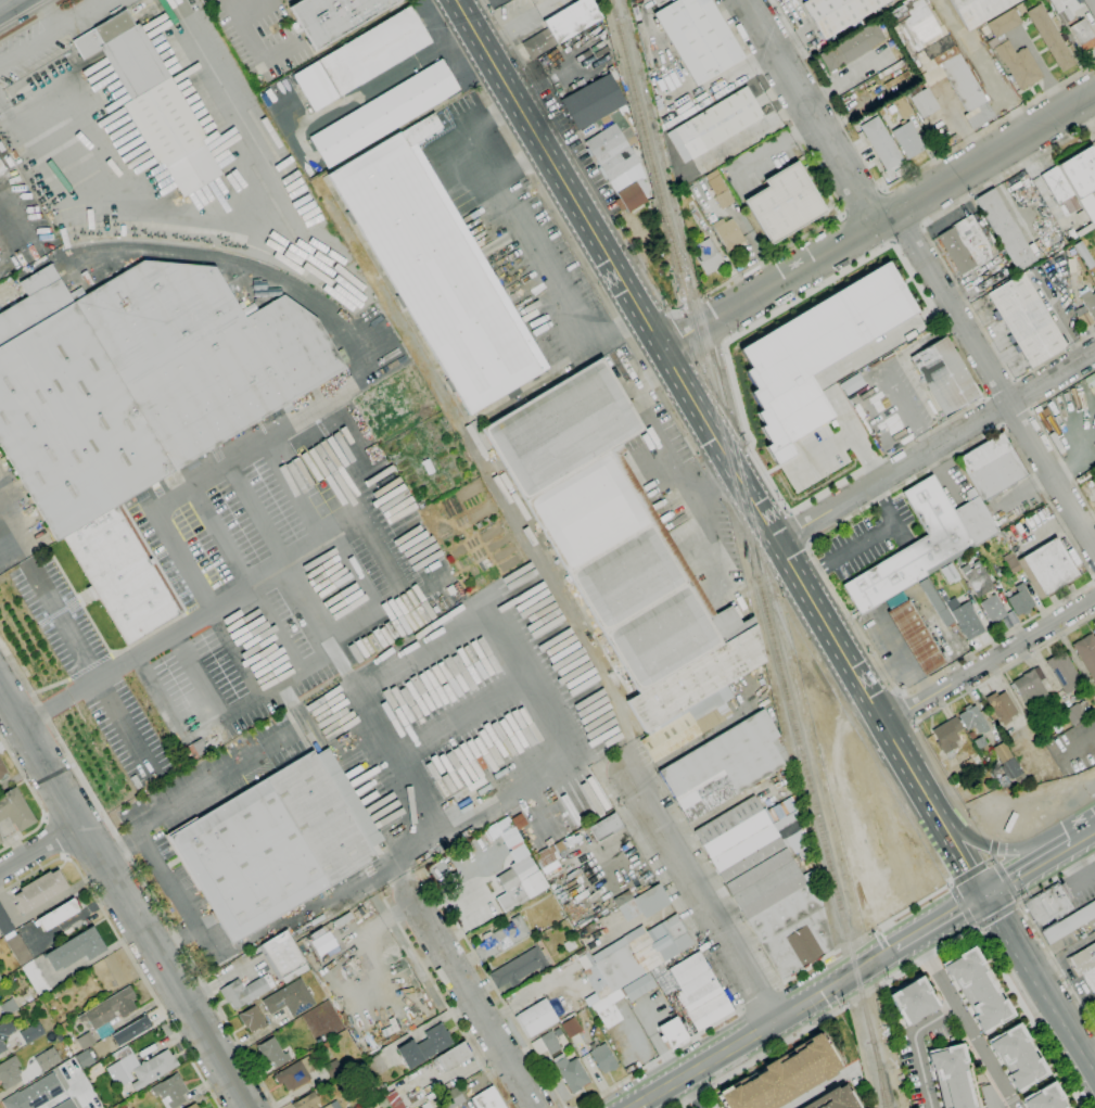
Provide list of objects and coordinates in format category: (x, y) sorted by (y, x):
building: (201, 0)
building: (204, 1)
road: (10, 5)
building: (979, 10)
building: (1061, 12)
road: (48, 13)
building: (839, 13)
building: (334, 17)
road: (31, 18)
building: (562, 26)
road: (246, 27)
road: (52, 30)
building: (1082, 35)
building: (699, 38)
building: (1051, 38)
road: (510, 40)
building: (852, 47)
building: (1013, 48)
building: (361, 59)
building: (937, 62)
building: (153, 101)
building: (593, 102)
building: (902, 106)
road: (1, 107)
road: (811, 112)
building: (384, 113)
building: (620, 123)
building: (718, 123)
road: (984, 131)
building: (907, 140)
building: (881, 143)
building: (13, 154)
road: (515, 166)
building: (619, 166)
building: (1, 168)
road: (817, 176)
building: (1081, 179)
road: (9, 186)
building: (1059, 189)
building: (720, 192)
road: (862, 202)
building: (784, 203)
road: (215, 214)
building: (1081, 216)
road: (879, 222)
road: (562, 227)
building: (1005, 229)
building: (728, 232)
road: (906, 234)
road: (519, 241)
building: (965, 244)
building: (1084, 254)
building: (708, 256)
road: (941, 256)
building: (437, 268)
road: (914, 282)
road: (811, 292)
building: (1088, 300)
road: (690, 305)
road: (673, 314)
building: (1027, 320)
building: (1084, 320)
road: (695, 330)
railway: (695, 331)
road: (880, 341)
road: (724, 343)
building: (816, 354)
road: (670, 361)
building: (945, 377)
road: (994, 381)
road: (1014, 381)
road: (999, 389)
road: (1020, 394)
road: (830, 395)
road: (986, 397)
building: (138, 403)
road: (1030, 408)
road: (994, 410)
road: (1015, 415)
road: (653, 423)
road: (1002, 424)
road: (742, 430)
road: (994, 431)
road: (1043, 431)
road: (858, 443)
road: (264, 444)
road: (937, 448)
road: (819, 451)
road: (712, 457)
road: (886, 457)
railway: (736, 462)
road: (777, 467)
building: (991, 467)
road: (336, 476)
road: (714, 483)
road: (878, 496)
building: (1043, 514)
building: (976, 519)
road: (801, 526)
road: (870, 536)
road: (20, 539)
road: (713, 543)
building: (620, 545)
building: (913, 549)
building: (960, 561)
building: (1010, 563)
building: (1047, 568)
road: (815, 570)
building: (948, 572)
road: (246, 580)
road: (1094, 580)
parking lot: (247, 589)
building: (983, 590)
building: (893, 599)
building: (1020, 600)
building: (935, 602)
road: (206, 603)
building: (1013, 616)
building: (965, 617)
road: (192, 622)
building: (1094, 622)
building: (1094, 624)
building: (916, 637)
building: (1086, 653)
road: (990, 660)
road: (311, 665)
road: (1004, 668)
road: (92, 671)
building: (1064, 672)
road: (199, 676)
building: (1030, 688)
road: (897, 692)
building: (1094, 697)
building: (1001, 706)
road: (903, 708)
building: (1078, 712)
building: (973, 719)
road: (912, 723)
building: (682, 725)
building: (946, 735)
building: (980, 742)
building: (1006, 762)
building: (725, 765)
building: (1, 770)
road: (912, 773)
road: (947, 785)
road: (37, 800)
road: (171, 805)
building: (15, 810)
road: (1047, 824)
building: (604, 827)
road: (1083, 836)
road: (55, 837)
road: (995, 837)
building: (0, 840)
building: (276, 843)
road: (992, 845)
road: (991, 846)
road: (1059, 851)
road: (41, 852)
building: (546, 857)
railway: (828, 857)
road: (992, 857)
road: (963, 858)
road: (988, 859)
road: (967, 874)
road: (139, 875)
building: (522, 877)
road: (1014, 877)
road: (1057, 880)
road: (1005, 881)
building: (766, 886)
building: (39, 891)
road: (696, 892)
traffic signals: (982, 896)
road: (124, 897)
building: (622, 899)
road: (175, 900)
road: (1018, 902)
building: (645, 903)
road: (914, 904)
road: (963, 905)
building: (1048, 906)
building: (361, 910)
road: (995, 914)
building: (56, 915)
road: (939, 921)
building: (4, 922)
building: (1069, 922)
road: (976, 928)
road: (858, 938)
building: (500, 939)
building: (322, 943)
building: (569, 944)
road: (124, 948)
building: (18, 950)
building: (76, 950)
building: (640, 952)
road: (928, 956)
building: (283, 957)
building: (1084, 965)
road: (1057, 966)
building: (519, 967)
road: (806, 968)
building: (36, 978)
building: (0, 979)
building: (664, 980)
building: (596, 984)
building: (638, 986)
road: (493, 988)
building: (977, 990)
road: (1033, 990)
building: (243, 992)
building: (699, 992)
road: (863, 995)
road: (470, 996)
building: (289, 998)
road: (759, 998)
road: (443, 999)
building: (913, 999)
road: (1028, 1004)
building: (8, 1006)
building: (608, 1008)
building: (324, 1009)
building: (109, 1011)
building: (535, 1018)
road: (1029, 1018)
building: (252, 1019)
road: (967, 1021)
building: (571, 1028)
road: (764, 1029)
building: (131, 1031)
building: (5, 1032)
building: (30, 1032)
building: (672, 1032)
road: (251, 1036)
building: (86, 1041)
building: (546, 1044)
road: (914, 1044)
building: (425, 1046)
building: (272, 1052)
building: (454, 1056)
building: (1017, 1056)
road: (760, 1057)
building: (603, 1058)
road: (658, 1058)
building: (47, 1059)
building: (85, 1060)
building: (377, 1065)
building: (139, 1068)
building: (332, 1069)
building: (10, 1072)
building: (295, 1073)
building: (571, 1073)
building: (785, 1075)
building: (952, 1078)
road: (1094, 1079)
railway: (880, 1081)
railway: (883, 1081)
road: (823, 1087)
building: (170, 1091)
road: (690, 1093)
building: (35, 1094)
building: (450, 1098)
building: (833, 1098)
building: (1045, 1098)
building: (487, 1099)
building: (306, 1101)
building: (65, 1105)
building: (123, 1106)
building: (193, 1106)
building: (328, 1106)
building: (420, 1107)

